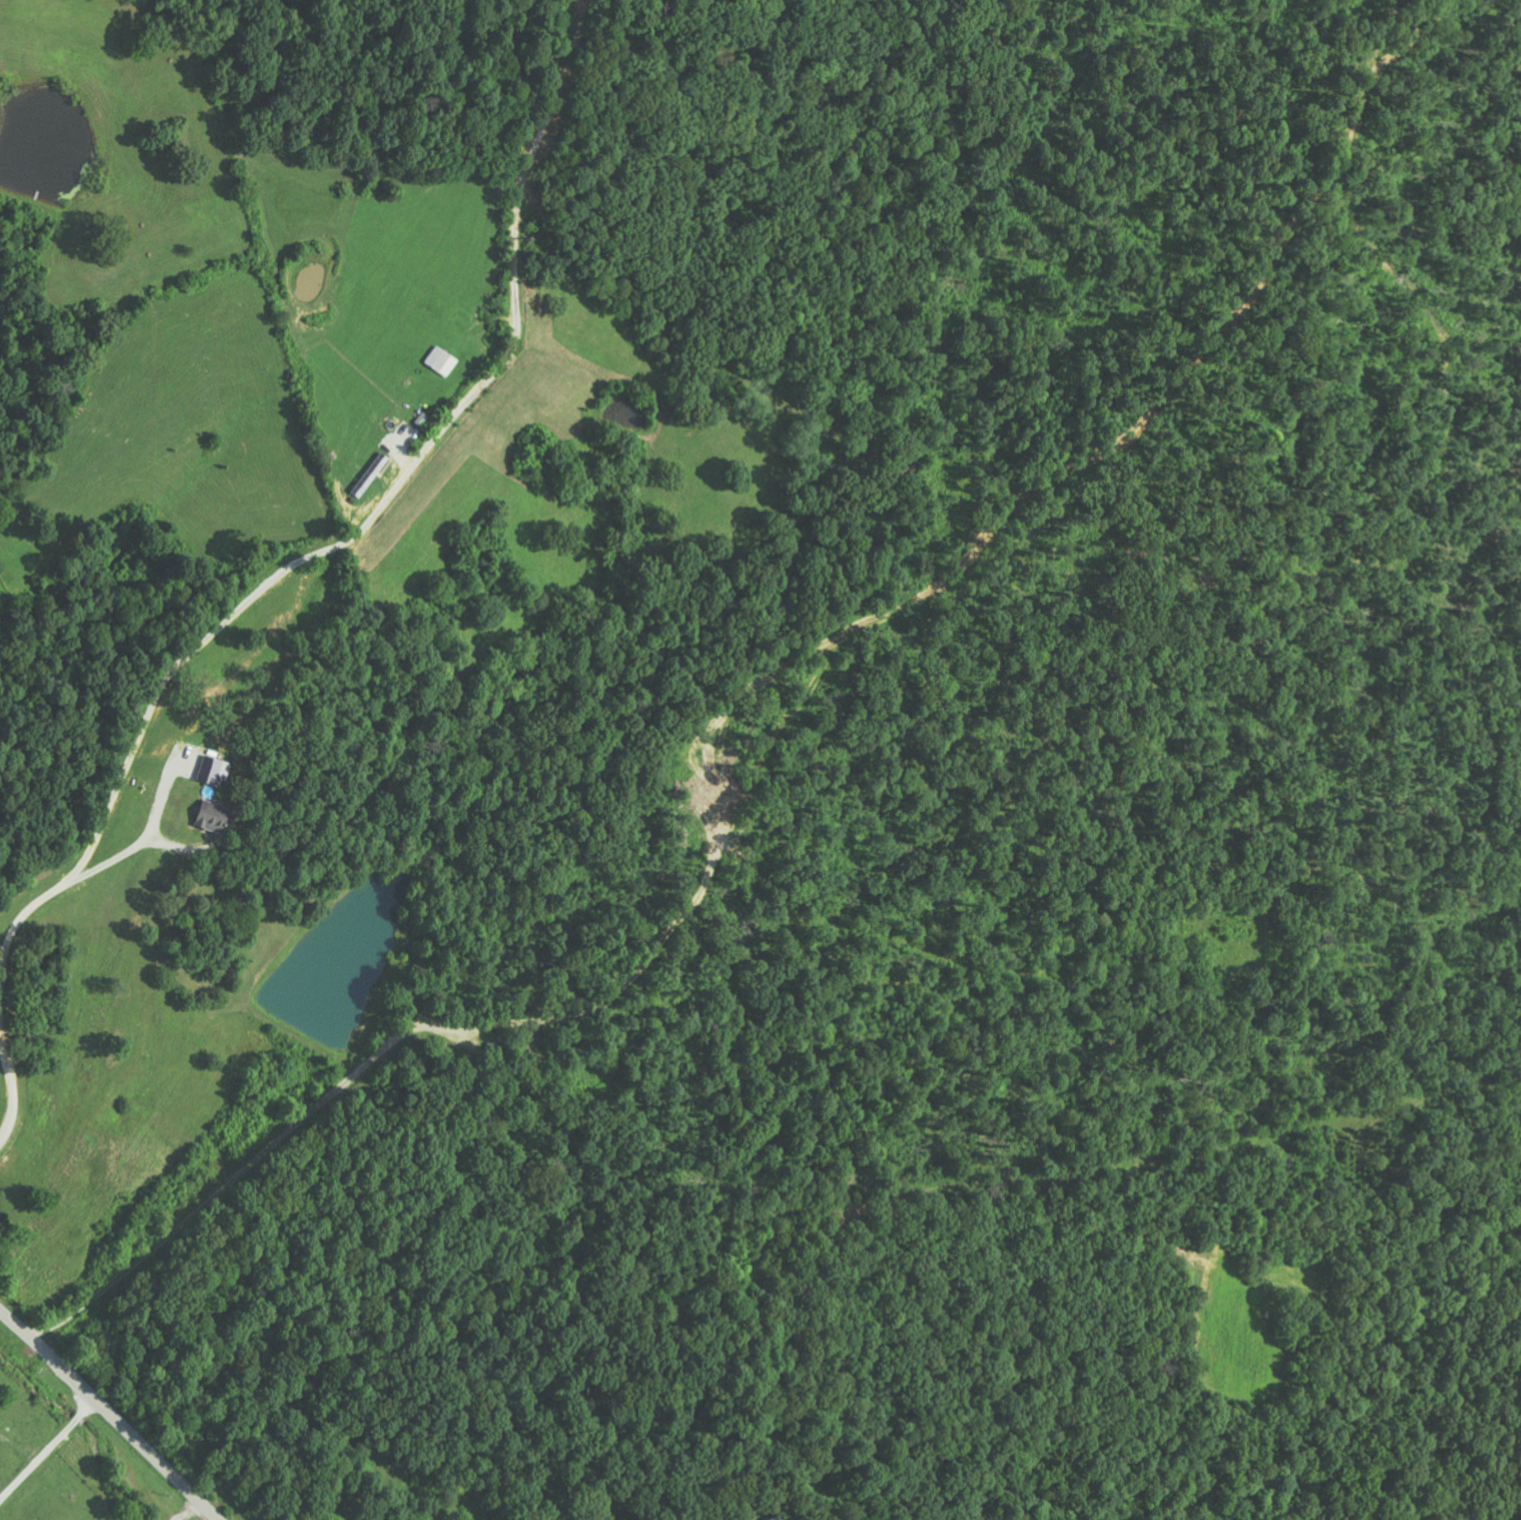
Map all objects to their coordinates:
building: (442, 361)
road: (798, 394)
road: (280, 561)
building: (214, 771)
building: (213, 817)
road: (112, 1412)
road: (902, 1419)
road: (50, 1453)
building: (781, 1517)

